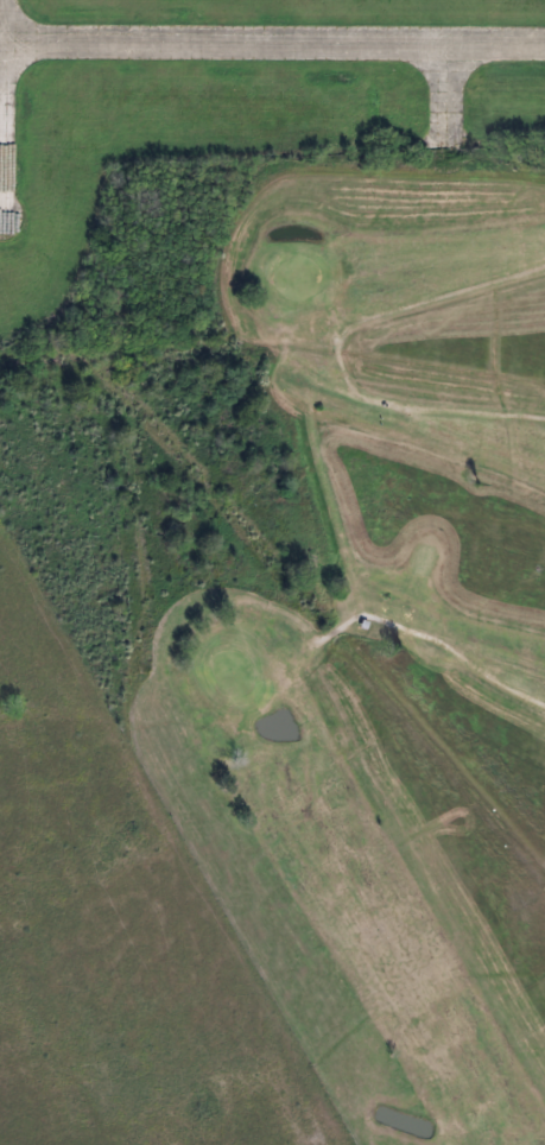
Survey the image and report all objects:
airport taxiway: (249, 48)
airport: (222, 121)
road: (337, 355)
road: (293, 367)
park: (331, 607)
road: (426, 638)

